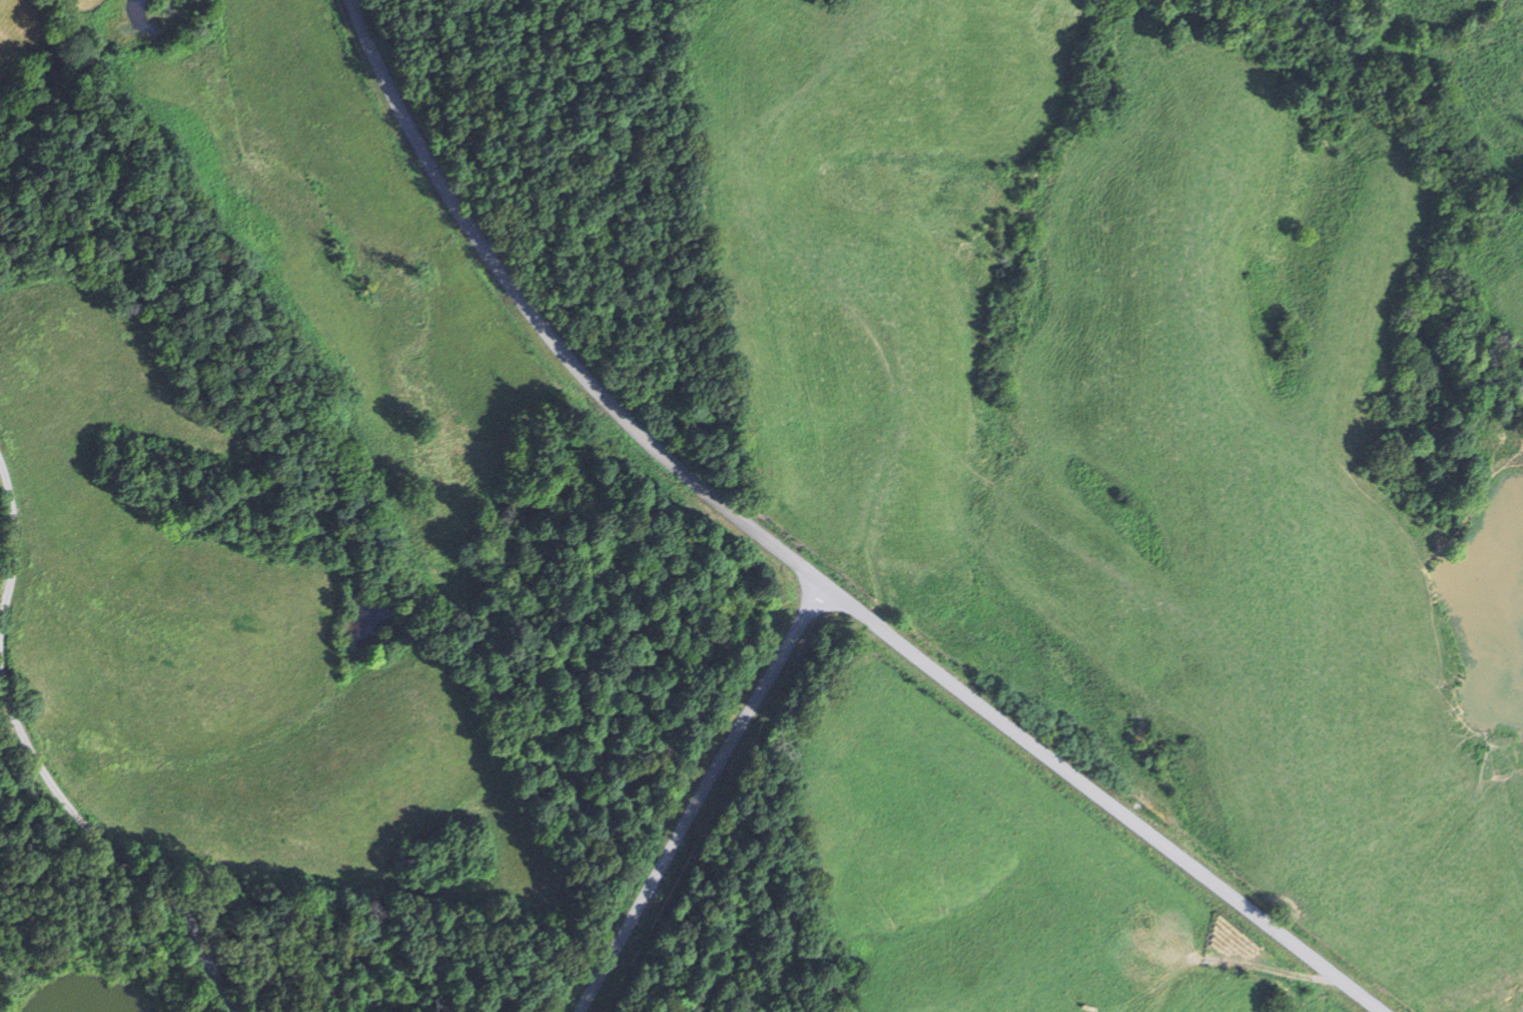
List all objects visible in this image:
road: (545, 327)
road: (16, 546)
road: (704, 797)
road: (1104, 798)
road: (104, 844)

